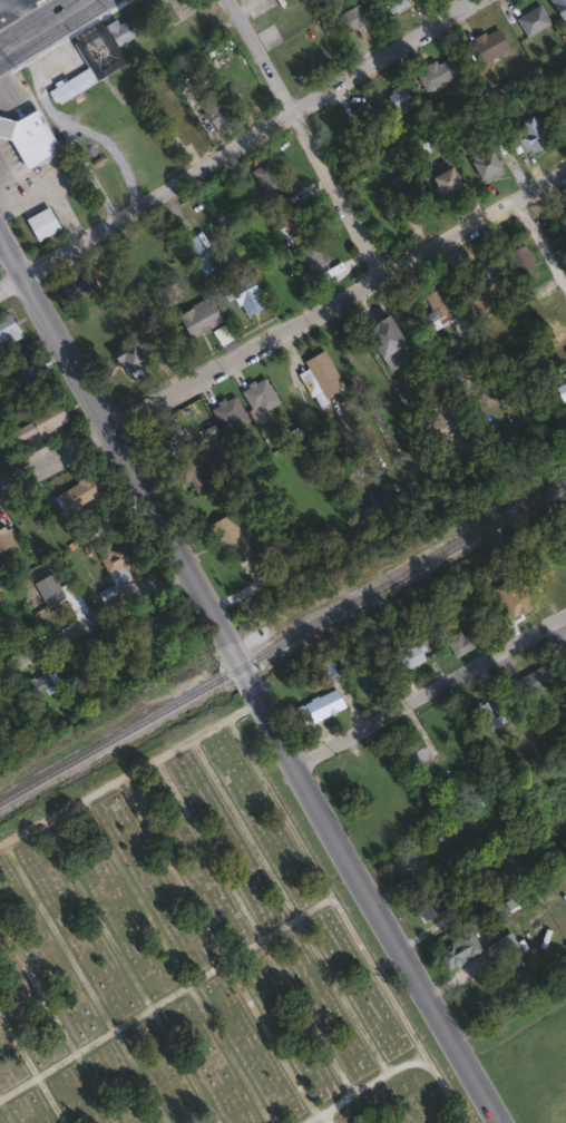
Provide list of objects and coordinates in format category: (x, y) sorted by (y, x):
building: (389, 2)
building: (559, 9)
building: (351, 17)
building: (530, 19)
road: (40, 25)
building: (485, 45)
building: (99, 52)
building: (563, 94)
building: (397, 97)
building: (367, 119)
building: (529, 133)
building: (27, 137)
road: (304, 138)
road: (237, 143)
building: (264, 177)
building: (442, 180)
building: (399, 188)
building: (286, 215)
building: (560, 222)
building: (40, 223)
road: (540, 244)
building: (511, 251)
building: (310, 260)
building: (479, 273)
building: (75, 285)
building: (244, 296)
building: (435, 301)
building: (196, 316)
building: (7, 328)
road: (283, 329)
building: (384, 342)
building: (348, 350)
building: (128, 354)
building: (318, 370)
building: (466, 372)
building: (30, 379)
building: (562, 389)
building: (256, 394)
road: (91, 401)
building: (226, 413)
building: (37, 426)
building: (167, 434)
building: (195, 461)
building: (75, 495)
building: (375, 509)
building: (6, 534)
building: (228, 539)
building: (115, 558)
building: (564, 561)
building: (544, 578)
building: (49, 605)
building: (156, 614)
road: (92, 616)
railway: (282, 639)
building: (457, 643)
building: (406, 654)
road: (237, 666)
building: (39, 682)
building: (530, 682)
road: (430, 689)
building: (320, 704)
road: (242, 710)
building: (482, 715)
building: (410, 753)
building: (435, 780)
road: (242, 828)
road: (207, 848)
road: (310, 861)
building: (404, 863)
road: (172, 870)
road: (134, 893)
building: (429, 905)
road: (96, 916)
road: (58, 936)
road: (394, 945)
building: (457, 948)
park: (197, 957)
road: (377, 976)
road: (37, 987)
road: (340, 994)
road: (305, 1016)
road: (269, 1037)
road: (17, 1045)
road: (227, 1053)
road: (183, 1065)
road: (138, 1075)
road: (360, 1086)
road: (94, 1087)
road: (443, 1090)
road: (48, 1100)
road: (6, 1112)
road: (324, 1116)

